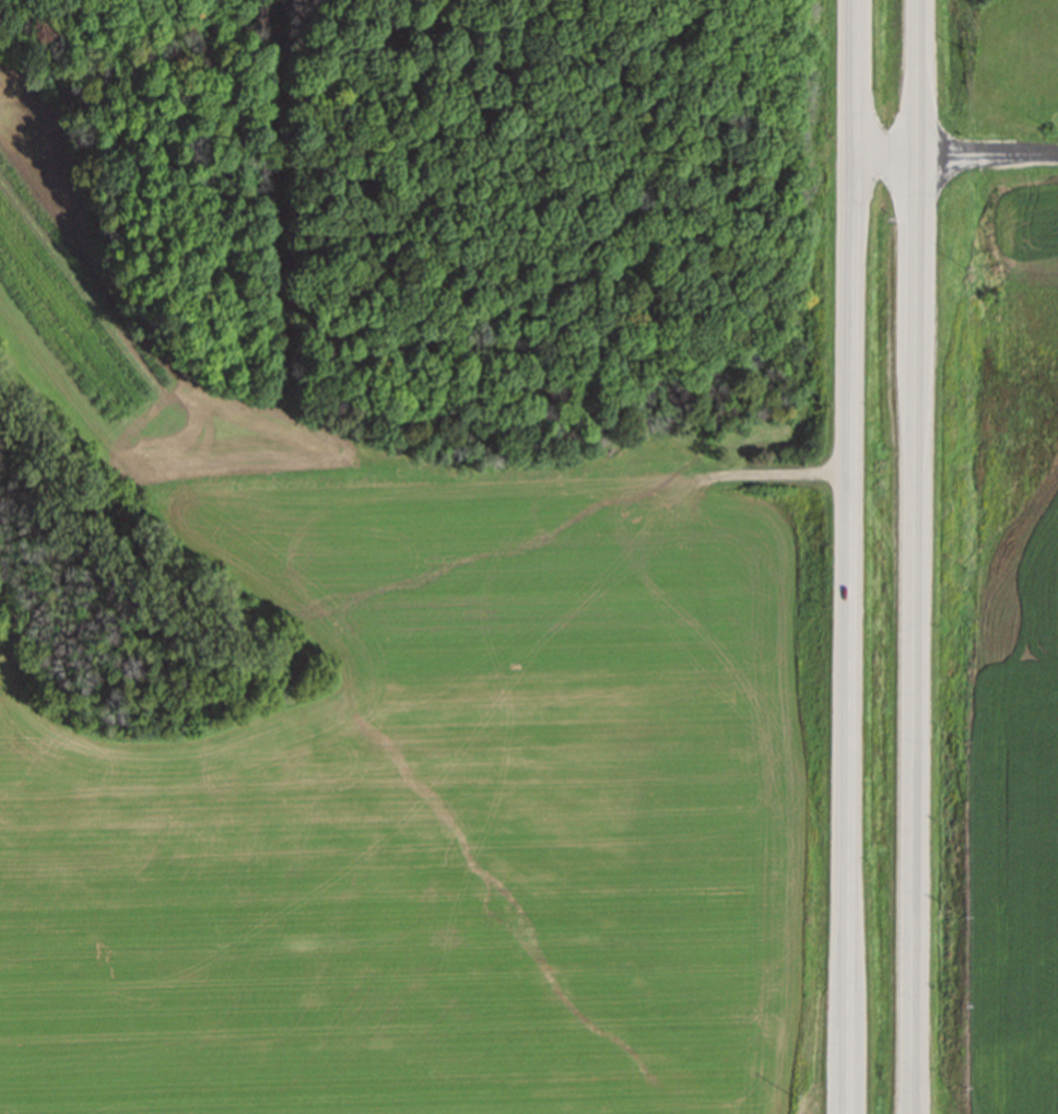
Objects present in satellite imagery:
road: (954, 156)
road: (849, 556)
road: (912, 556)

